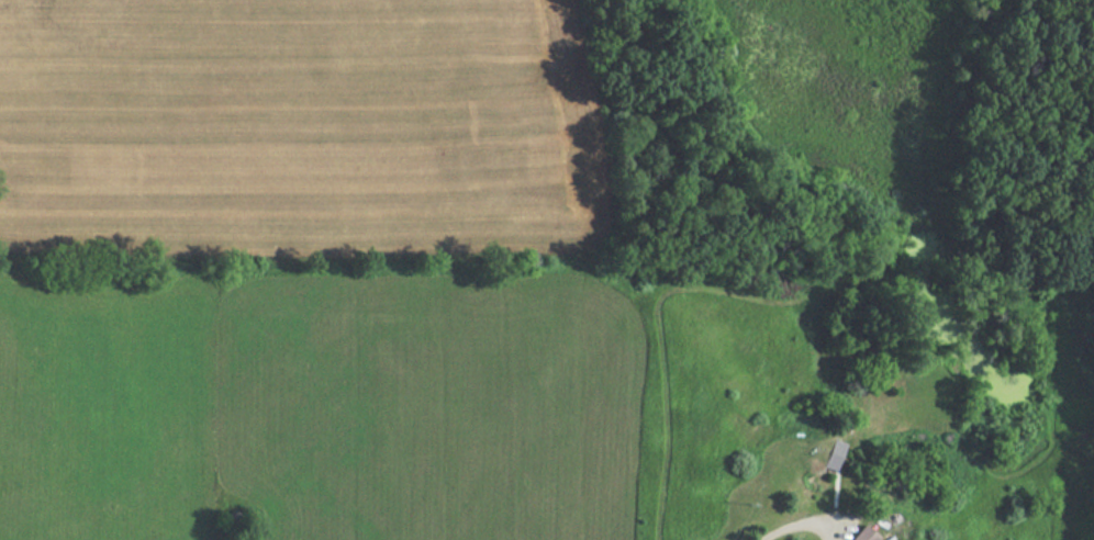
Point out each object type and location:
road: (796, 525)
building: (863, 533)

